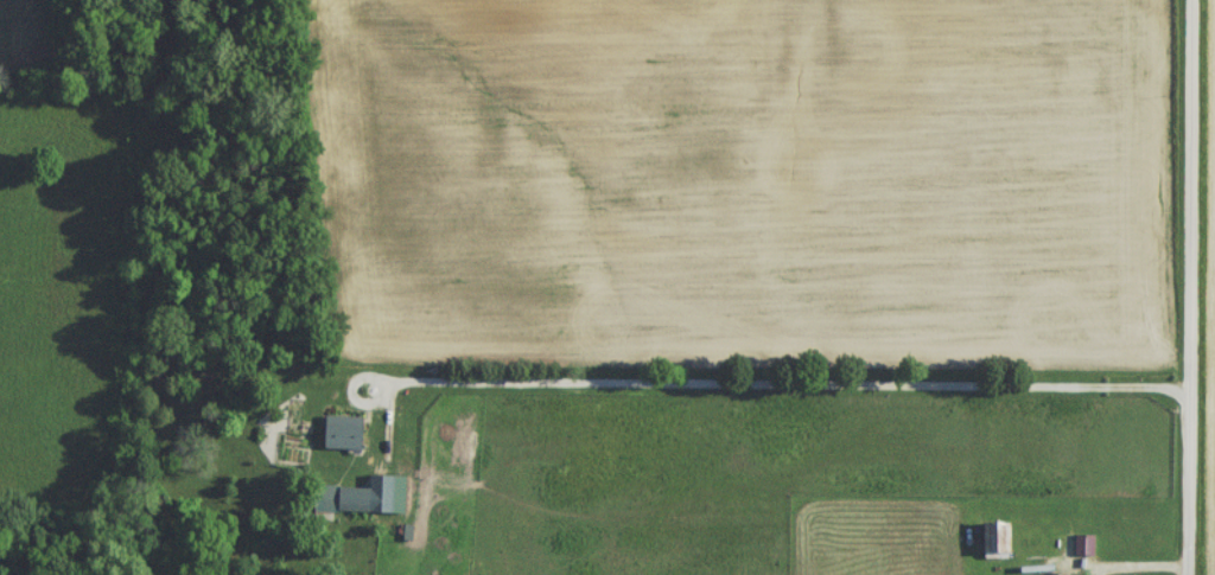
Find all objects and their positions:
road: (1191, 287)
road: (787, 386)
building: (343, 439)
building: (339, 506)
building: (1076, 551)

